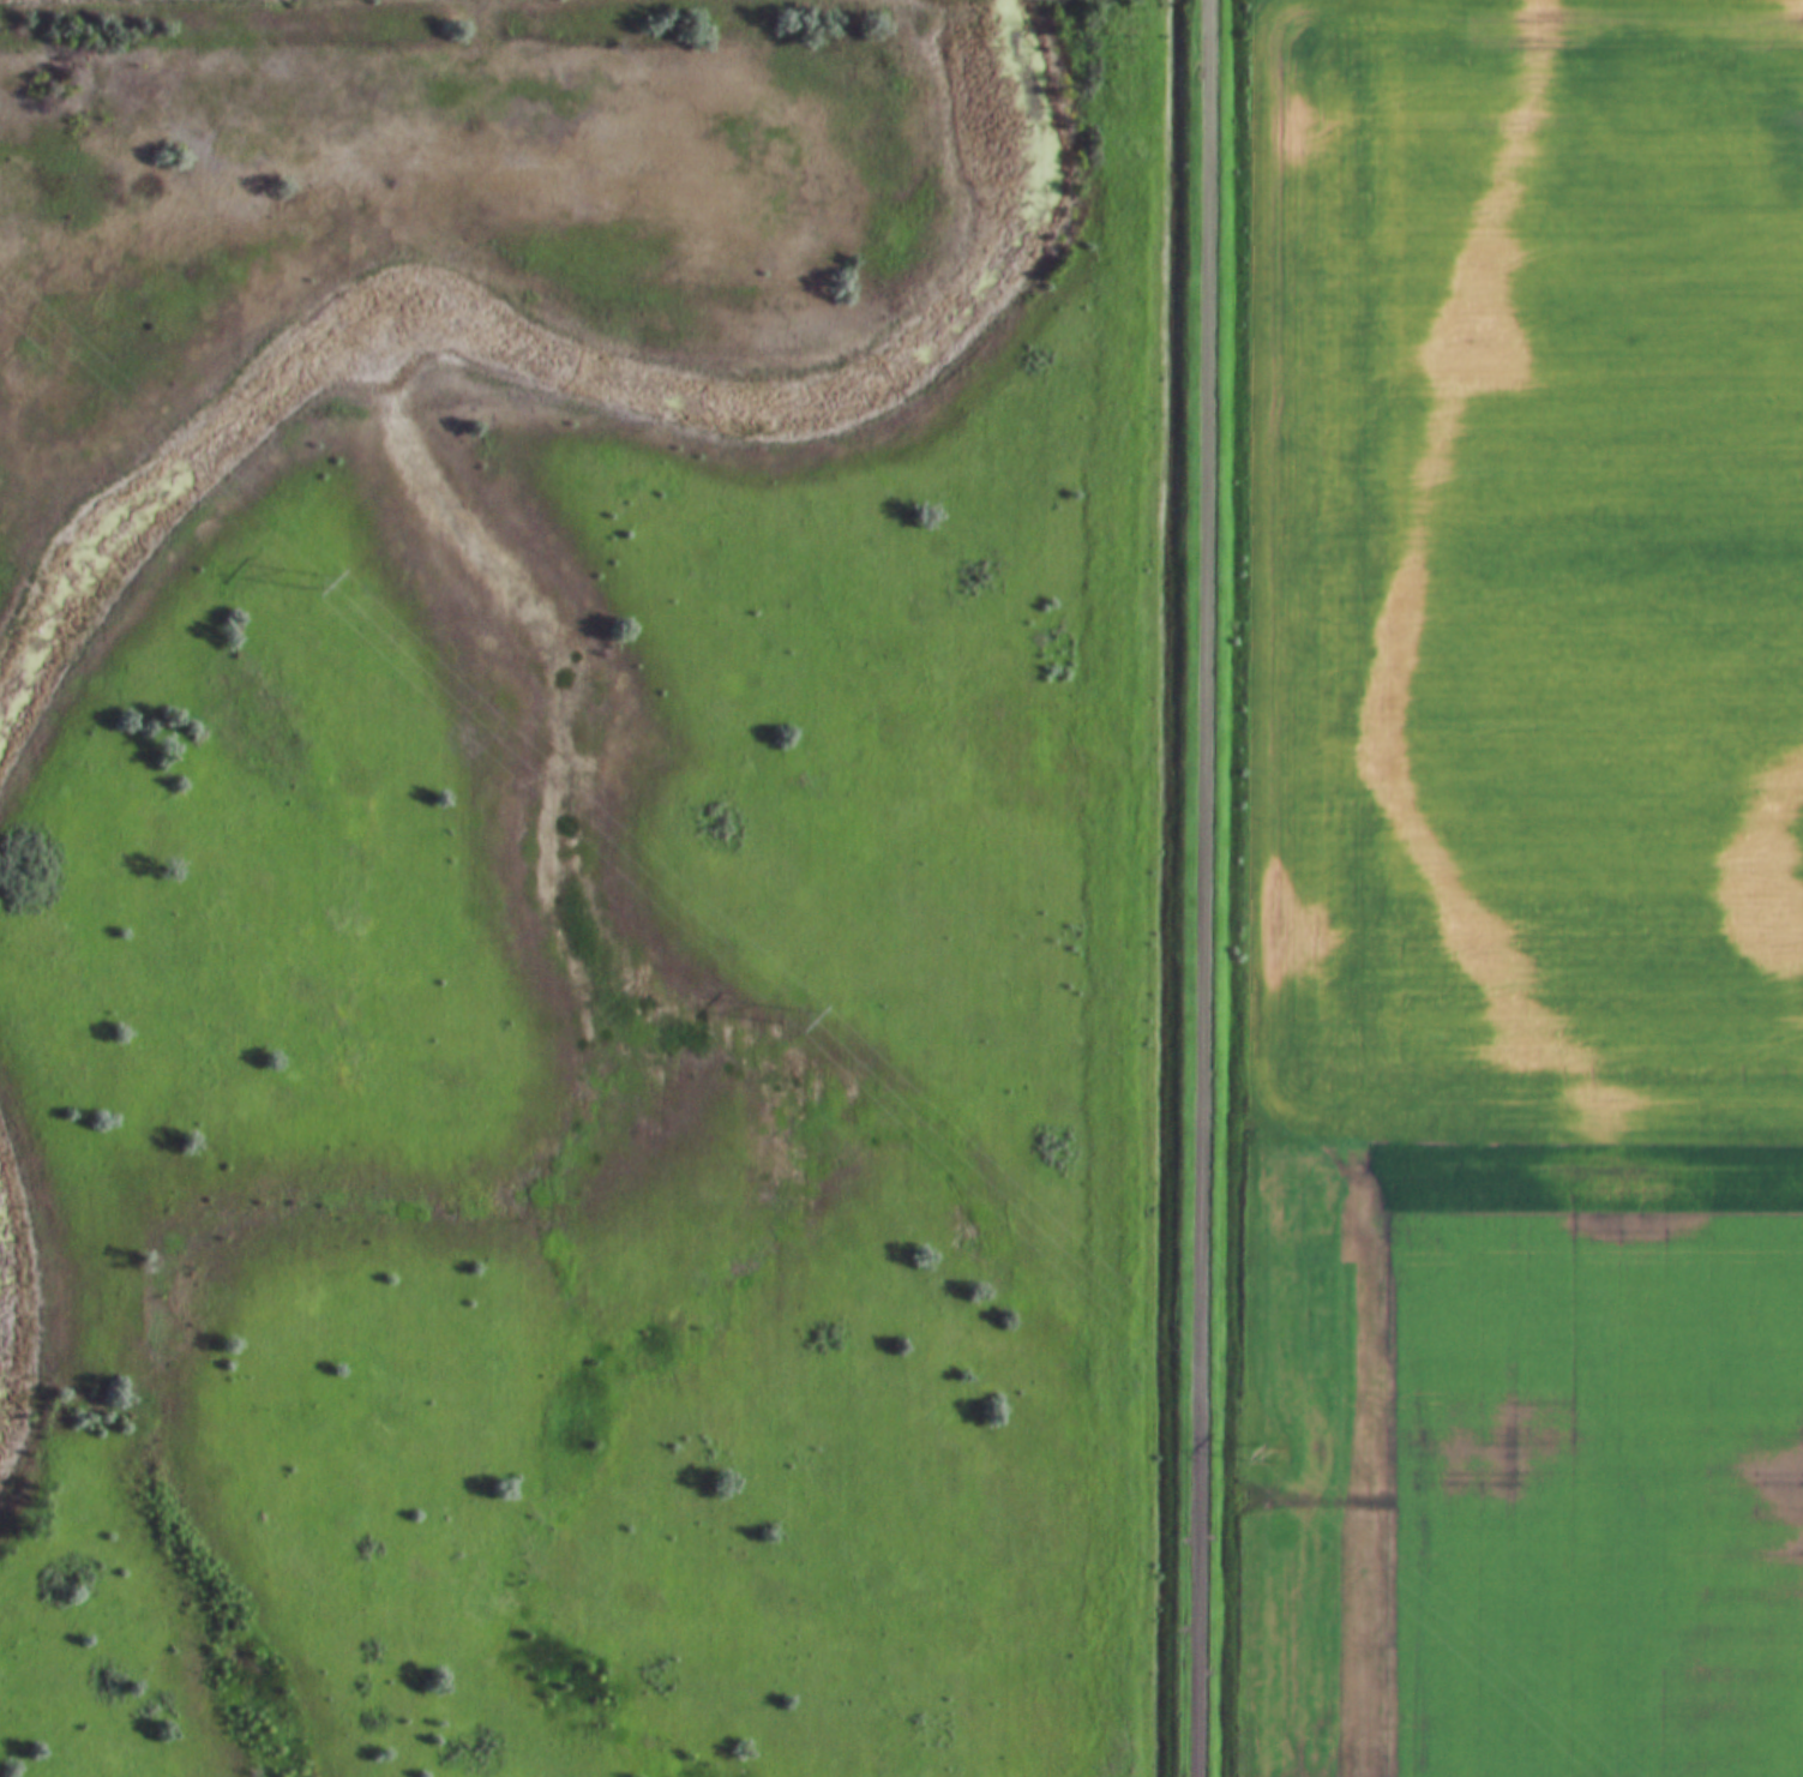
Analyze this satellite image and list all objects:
power tower: (312, 577)
road: (1204, 888)
power tower: (791, 1014)
power tower: (1279, 1457)

